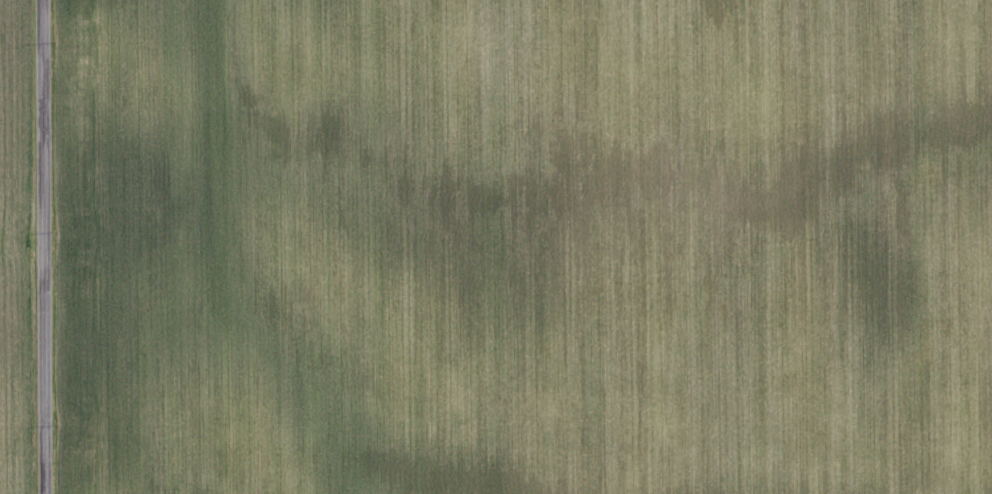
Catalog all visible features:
road: (43, 247)

